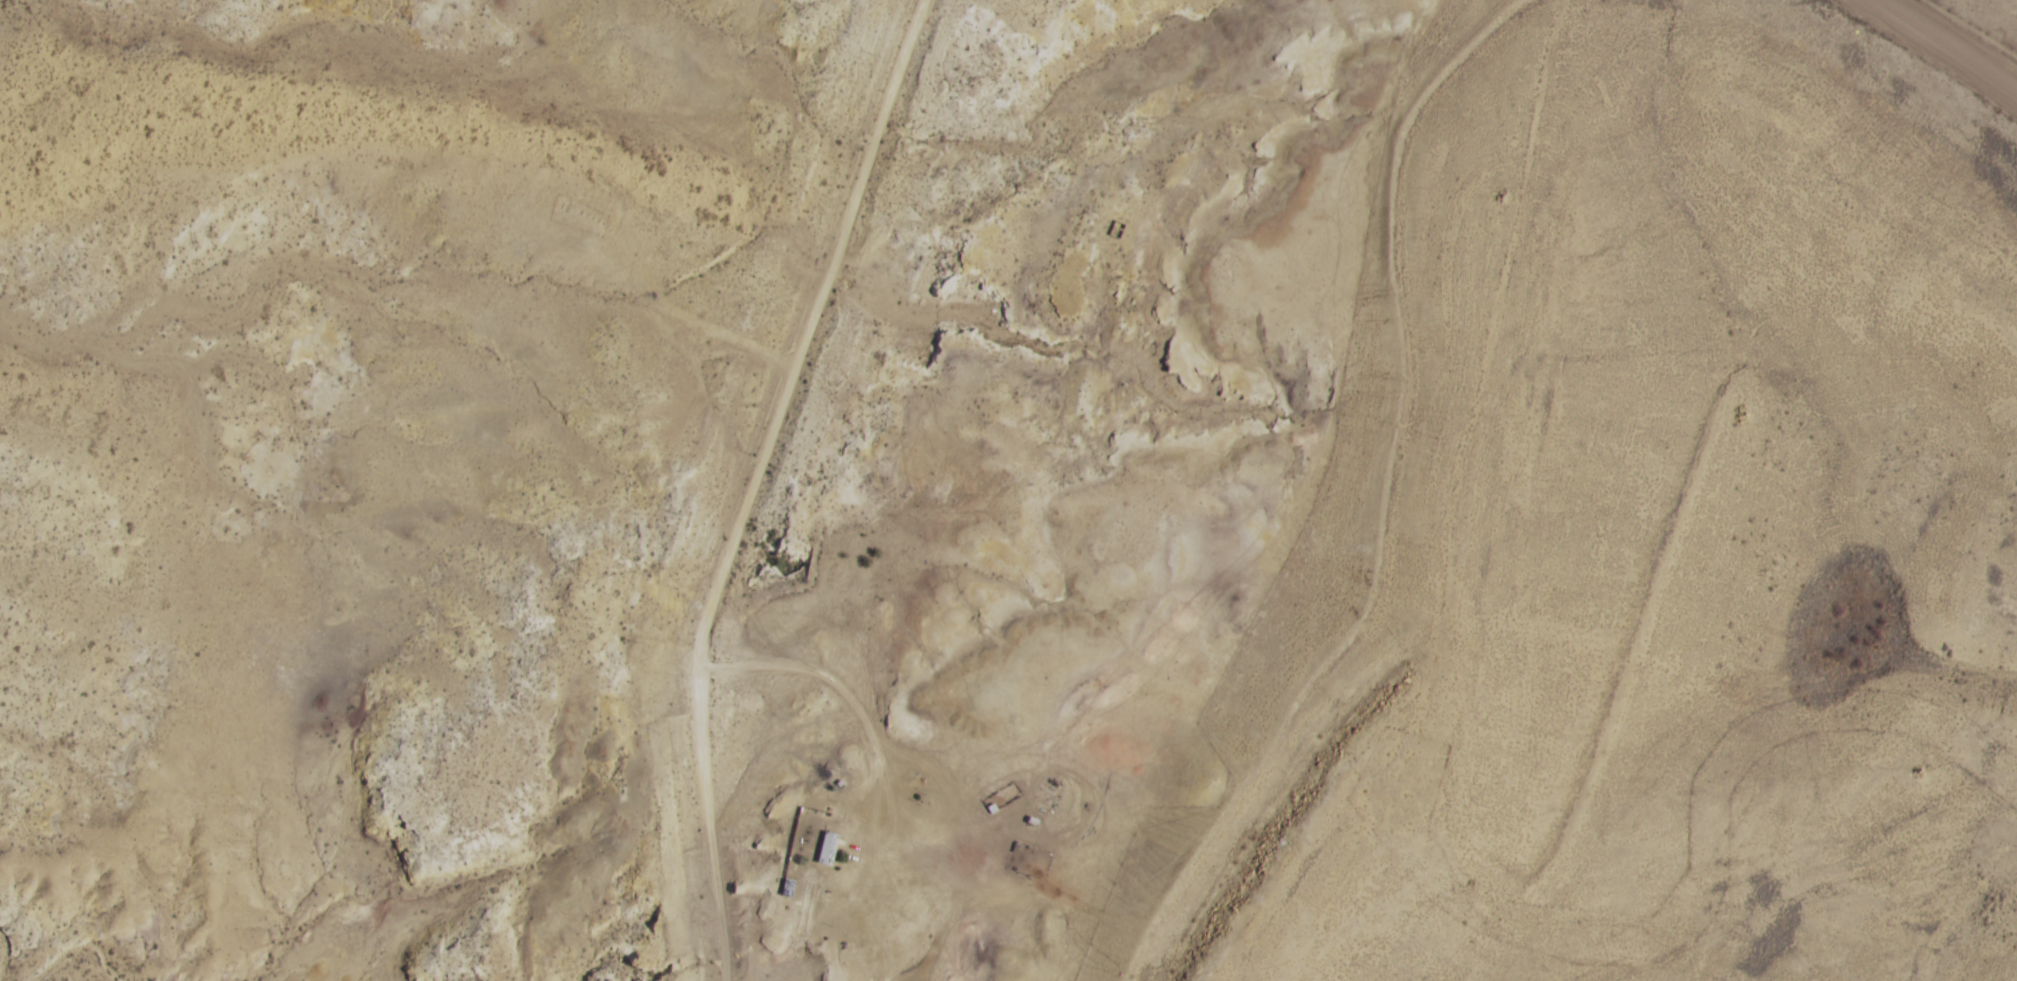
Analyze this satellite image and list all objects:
road: (1881, 97)
road: (789, 484)
building: (828, 848)

